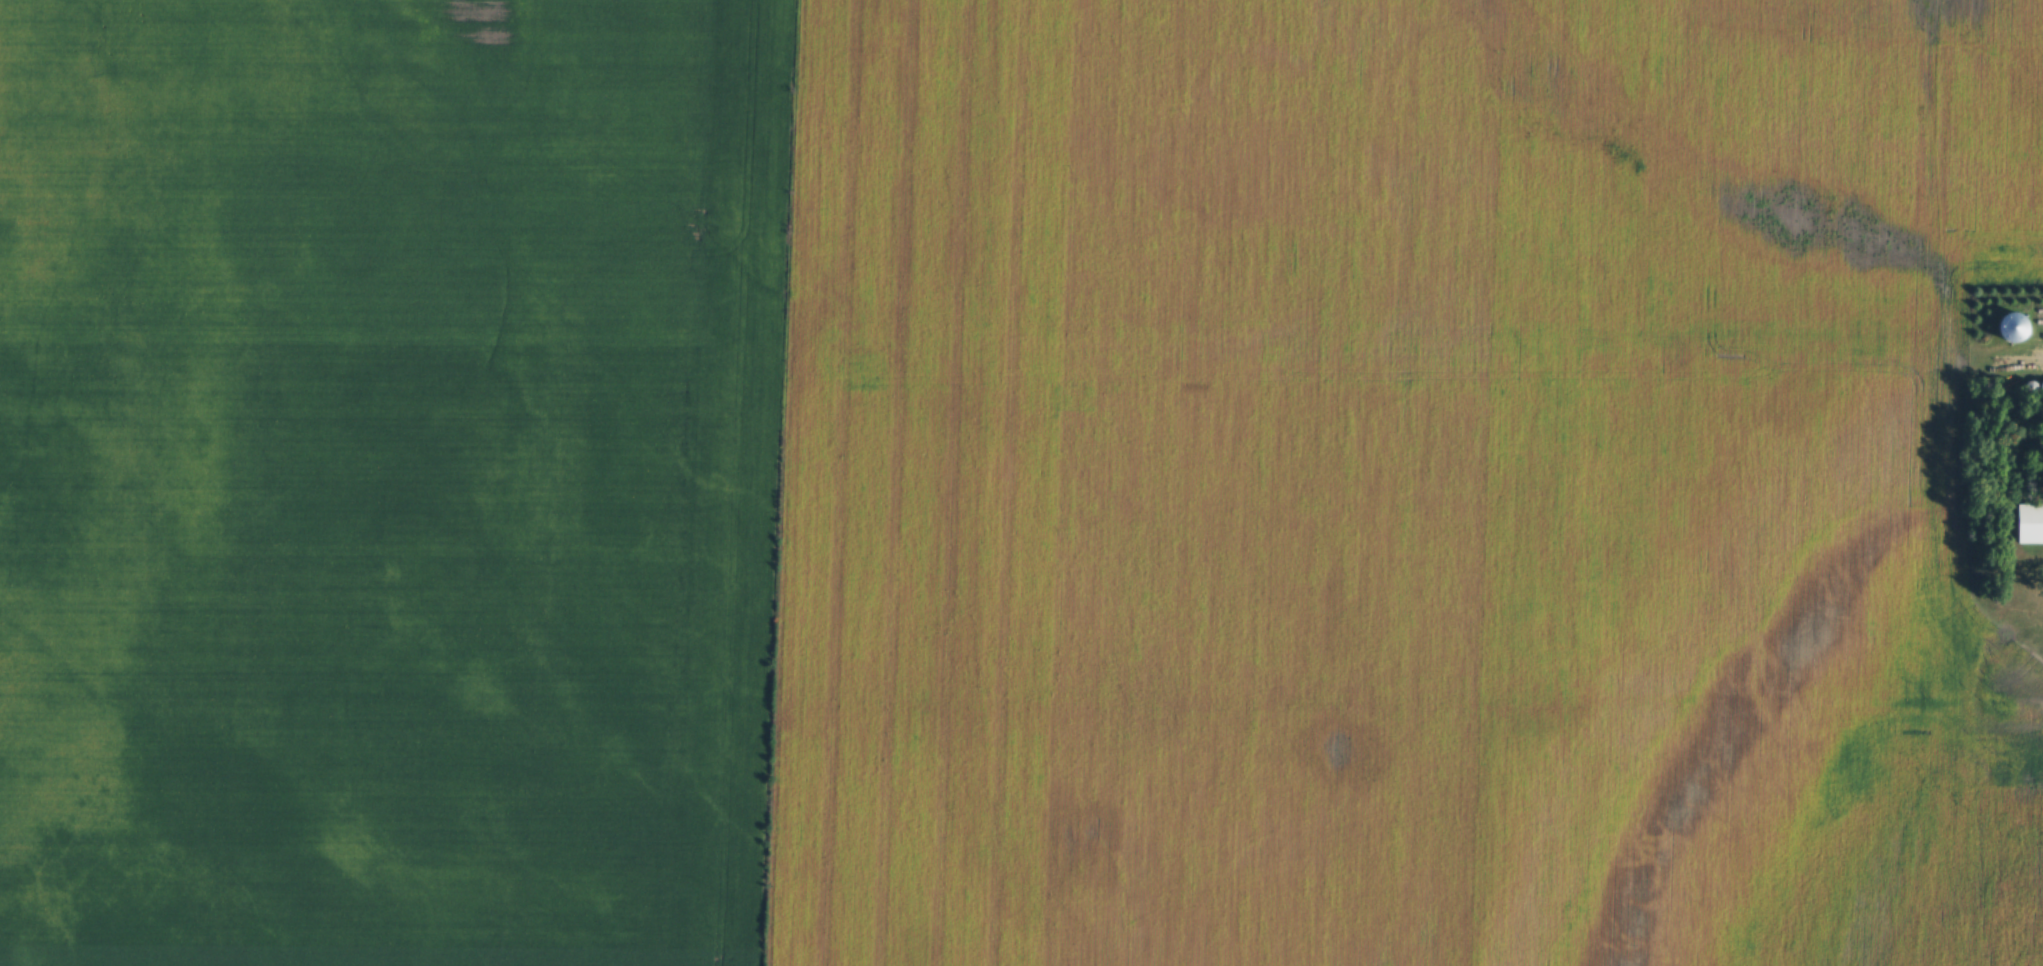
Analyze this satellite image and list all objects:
building: (2030, 526)

